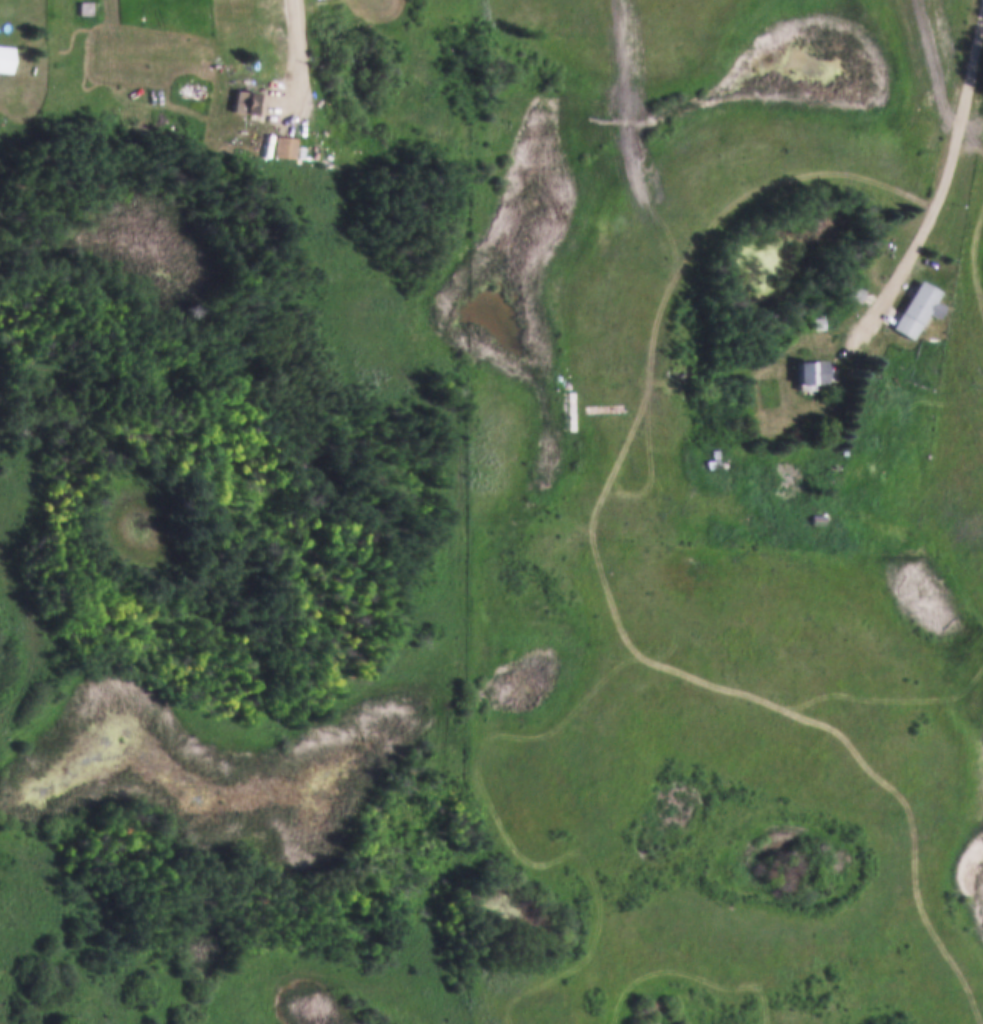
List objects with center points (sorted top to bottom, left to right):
building: (84, 6)
building: (4, 56)
road: (301, 60)
building: (196, 96)
building: (245, 101)
building: (288, 146)
building: (305, 149)
road: (937, 196)
building: (853, 292)
building: (917, 306)
building: (817, 321)
building: (808, 372)
building: (565, 414)
building: (817, 518)

